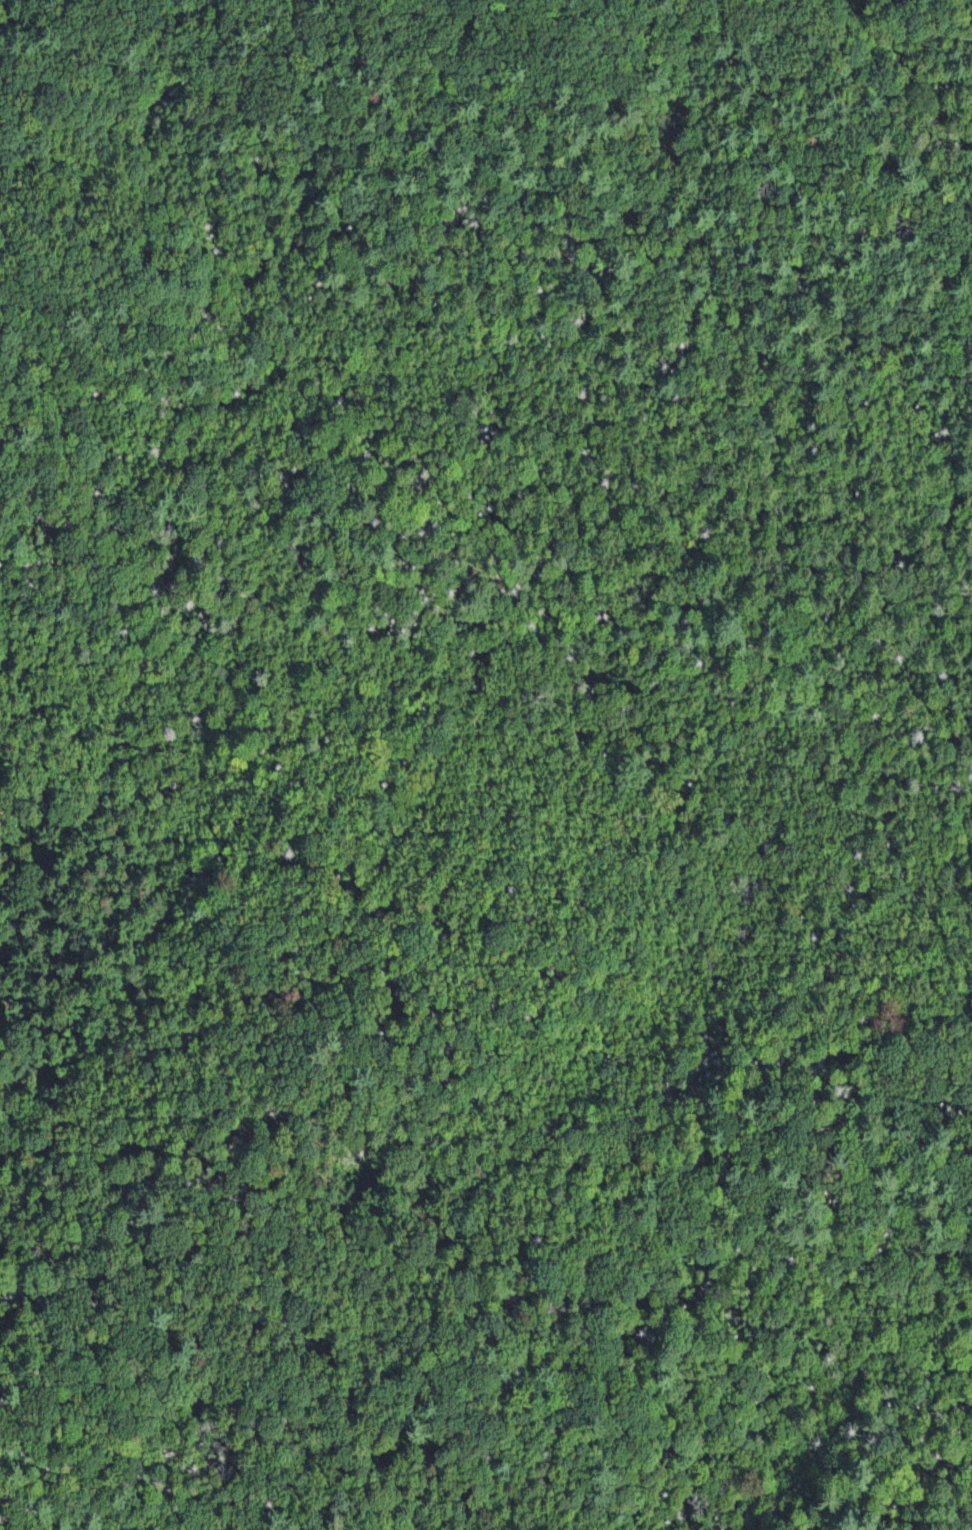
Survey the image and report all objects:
road: (354, 1292)

